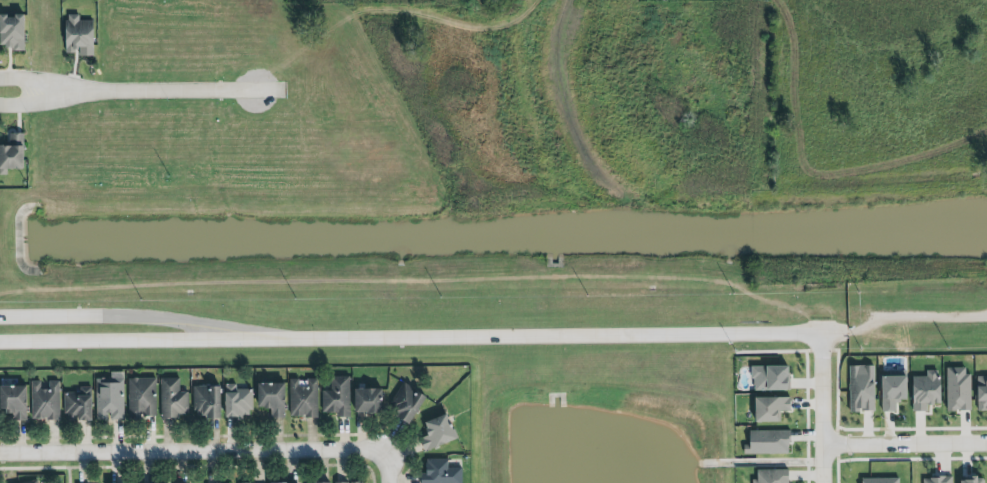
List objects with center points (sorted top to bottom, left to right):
building: (11, 31)
building: (77, 35)
road: (36, 82)
road: (179, 90)
road: (770, 92)
road: (37, 103)
building: (11, 152)
road: (881, 173)
road: (150, 315)
road: (901, 318)
road: (559, 335)
road: (150, 340)
building: (769, 378)
building: (860, 388)
building: (957, 388)
building: (924, 391)
building: (890, 392)
building: (981, 393)
building: (110, 399)
building: (142, 399)
building: (338, 399)
building: (173, 400)
building: (304, 400)
building: (273, 401)
building: (45, 402)
building: (207, 402)
building: (238, 402)
building: (369, 402)
building: (14, 403)
building: (408, 404)
building: (79, 406)
road: (819, 408)
building: (768, 409)
building: (438, 435)
road: (903, 442)
building: (770, 443)
road: (192, 452)
road: (385, 467)
building: (441, 472)
building: (771, 476)
building: (879, 480)
building: (936, 480)
building: (972, 480)
building: (33, 482)
building: (345, 482)

